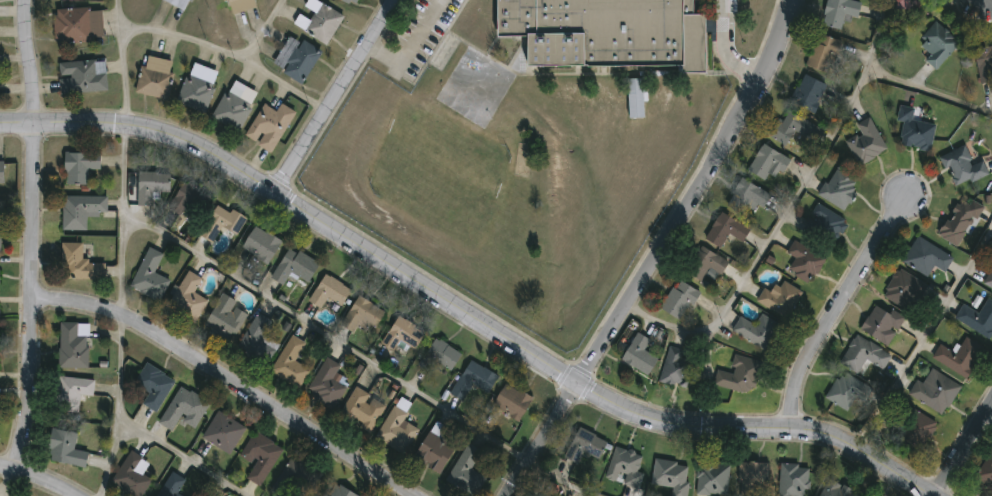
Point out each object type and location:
building: (353, 0)
building: (180, 3)
building: (237, 4)
building: (911, 4)
building: (838, 12)
building: (318, 20)
building: (77, 23)
road: (264, 30)
building: (606, 32)
building: (936, 43)
road: (408, 47)
road: (725, 50)
road: (227, 51)
building: (823, 52)
building: (295, 57)
building: (983, 62)
road: (120, 64)
building: (81, 75)
building: (154, 76)
building: (196, 86)
road: (928, 90)
building: (807, 91)
road: (333, 96)
building: (636, 98)
building: (234, 104)
building: (268, 122)
building: (792, 124)
building: (914, 130)
building: (865, 141)
building: (767, 161)
building: (961, 164)
building: (78, 165)
building: (1, 170)
building: (150, 185)
building: (838, 188)
building: (746, 195)
building: (188, 200)
building: (80, 209)
road: (786, 213)
building: (959, 219)
building: (221, 221)
building: (823, 223)
building: (725, 229)
building: (0, 234)
road: (30, 236)
building: (260, 243)
road: (661, 252)
building: (924, 256)
building: (802, 260)
building: (78, 262)
building: (703, 262)
building: (293, 265)
building: (148, 275)
building: (988, 279)
building: (901, 288)
building: (328, 290)
building: (187, 296)
building: (779, 298)
building: (677, 299)
road: (835, 309)
road: (126, 313)
road: (462, 313)
building: (361, 314)
building: (223, 317)
building: (976, 317)
building: (881, 322)
building: (756, 330)
building: (401, 333)
road: (923, 335)
road: (329, 337)
building: (257, 339)
building: (72, 343)
building: (863, 353)
building: (639, 354)
building: (438, 355)
building: (956, 355)
building: (289, 361)
building: (680, 365)
building: (739, 375)
building: (472, 379)
road: (224, 381)
building: (325, 382)
building: (153, 384)
building: (844, 390)
building: (933, 390)
building: (71, 391)
building: (511, 400)
building: (182, 407)
building: (361, 408)
road: (989, 417)
building: (914, 428)
building: (396, 429)
building: (222, 430)
building: (584, 444)
building: (64, 447)
road: (963, 450)
building: (433, 451)
building: (259, 455)
road: (183, 456)
building: (624, 466)
building: (470, 467)
building: (985, 470)
building: (131, 473)
building: (670, 475)
building: (297, 477)
building: (711, 477)
building: (752, 478)
road: (35, 479)
building: (793, 479)
road: (582, 481)
road: (7, 482)
building: (172, 485)
building: (834, 489)
building: (338, 490)
building: (540, 494)
building: (316, 495)
building: (865, 495)

